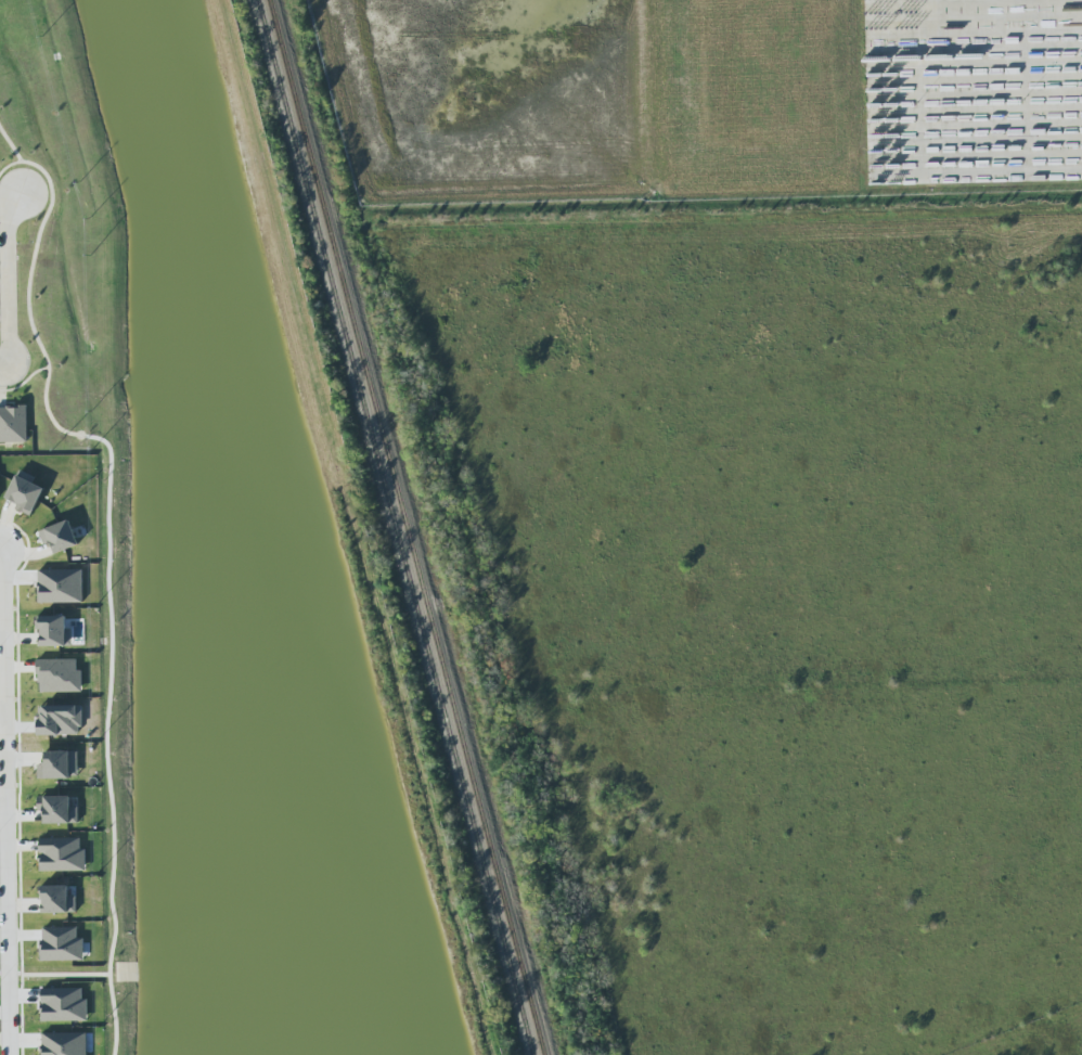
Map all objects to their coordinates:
road: (29, 280)
road: (7, 283)
road: (3, 371)
road: (25, 381)
road: (0, 389)
building: (13, 424)
building: (25, 494)
railway: (408, 527)
building: (60, 537)
building: (61, 586)
building: (54, 631)
building: (60, 676)
building: (60, 720)
building: (60, 765)
road: (5, 803)
building: (59, 809)
building: (62, 854)
building: (59, 900)
building: (62, 944)
building: (64, 1005)
building: (65, 1043)

